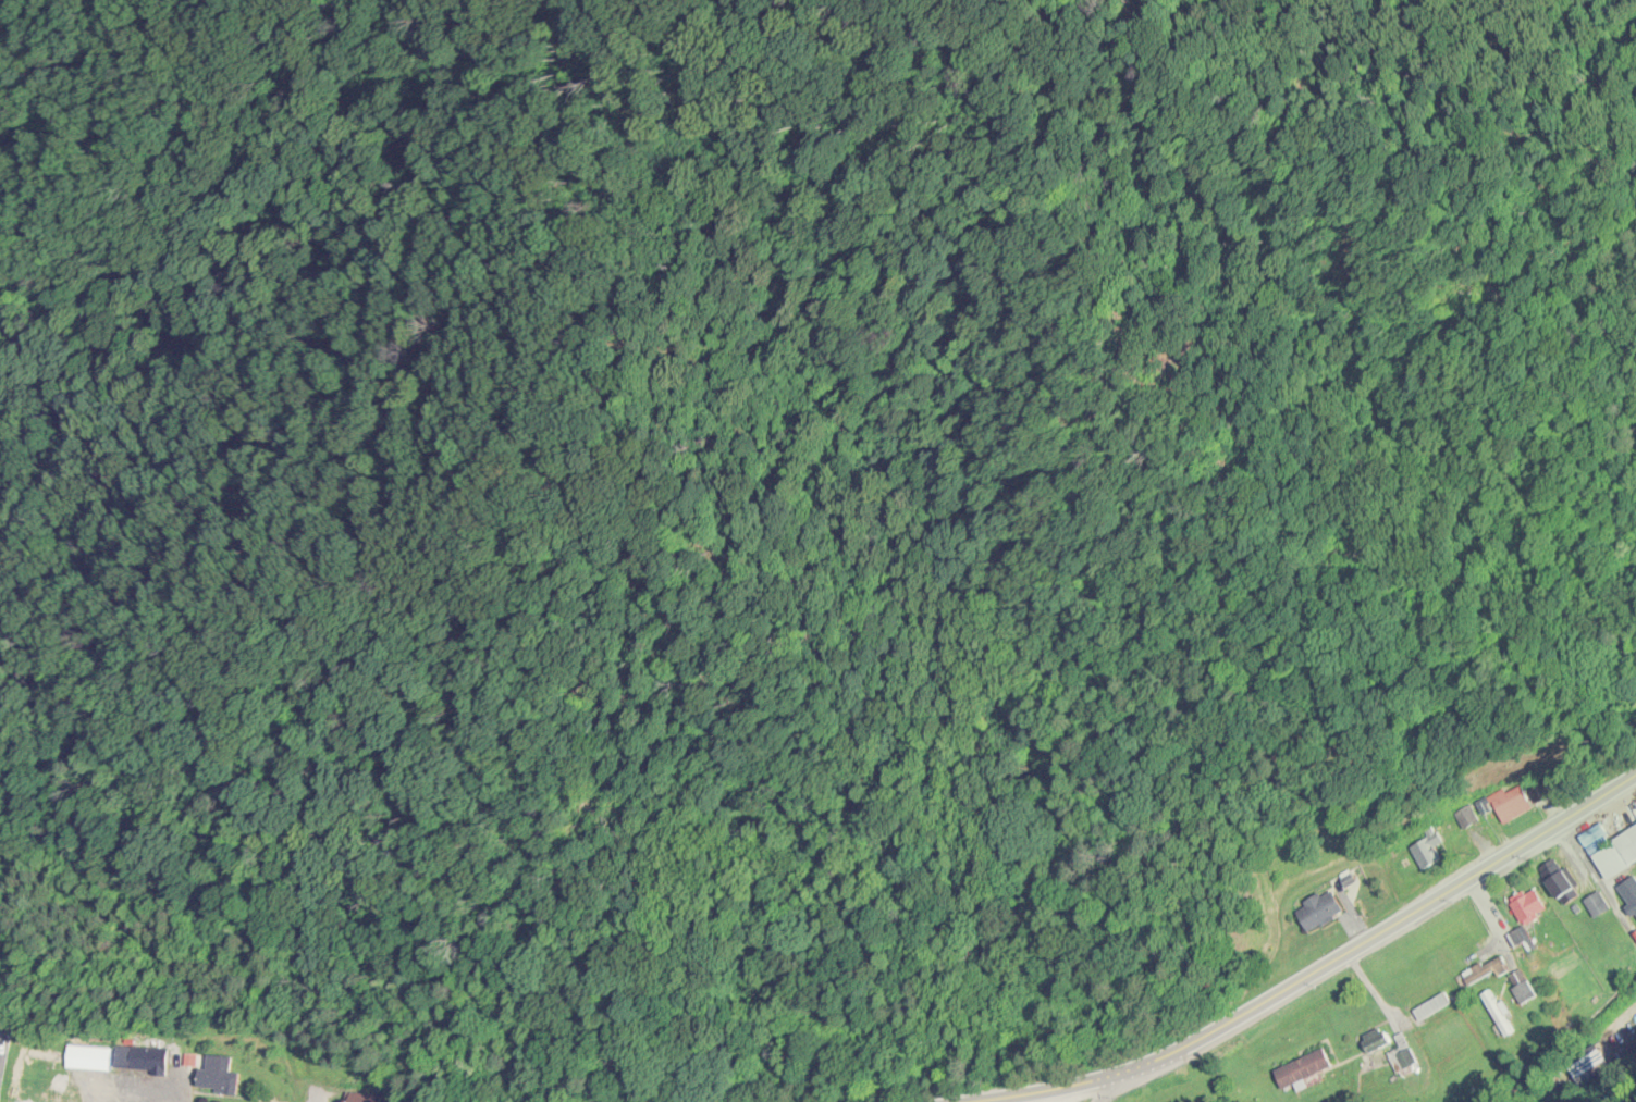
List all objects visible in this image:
building: (1539, 794)
building: (1512, 806)
building: (1595, 838)
building: (1427, 852)
building: (1616, 855)
building: (1559, 882)
building: (1629, 892)
building: (1528, 907)
building: (1320, 911)
building: (1516, 939)
road: (1328, 968)
building: (1486, 971)
building: (1521, 988)
building: (1431, 1007)
building: (1497, 1015)
building: (4, 1026)
road: (1619, 1026)
building: (1387, 1051)
building: (148, 1060)
building: (1303, 1069)
building: (218, 1076)
road: (1109, 1089)
building: (366, 1099)

